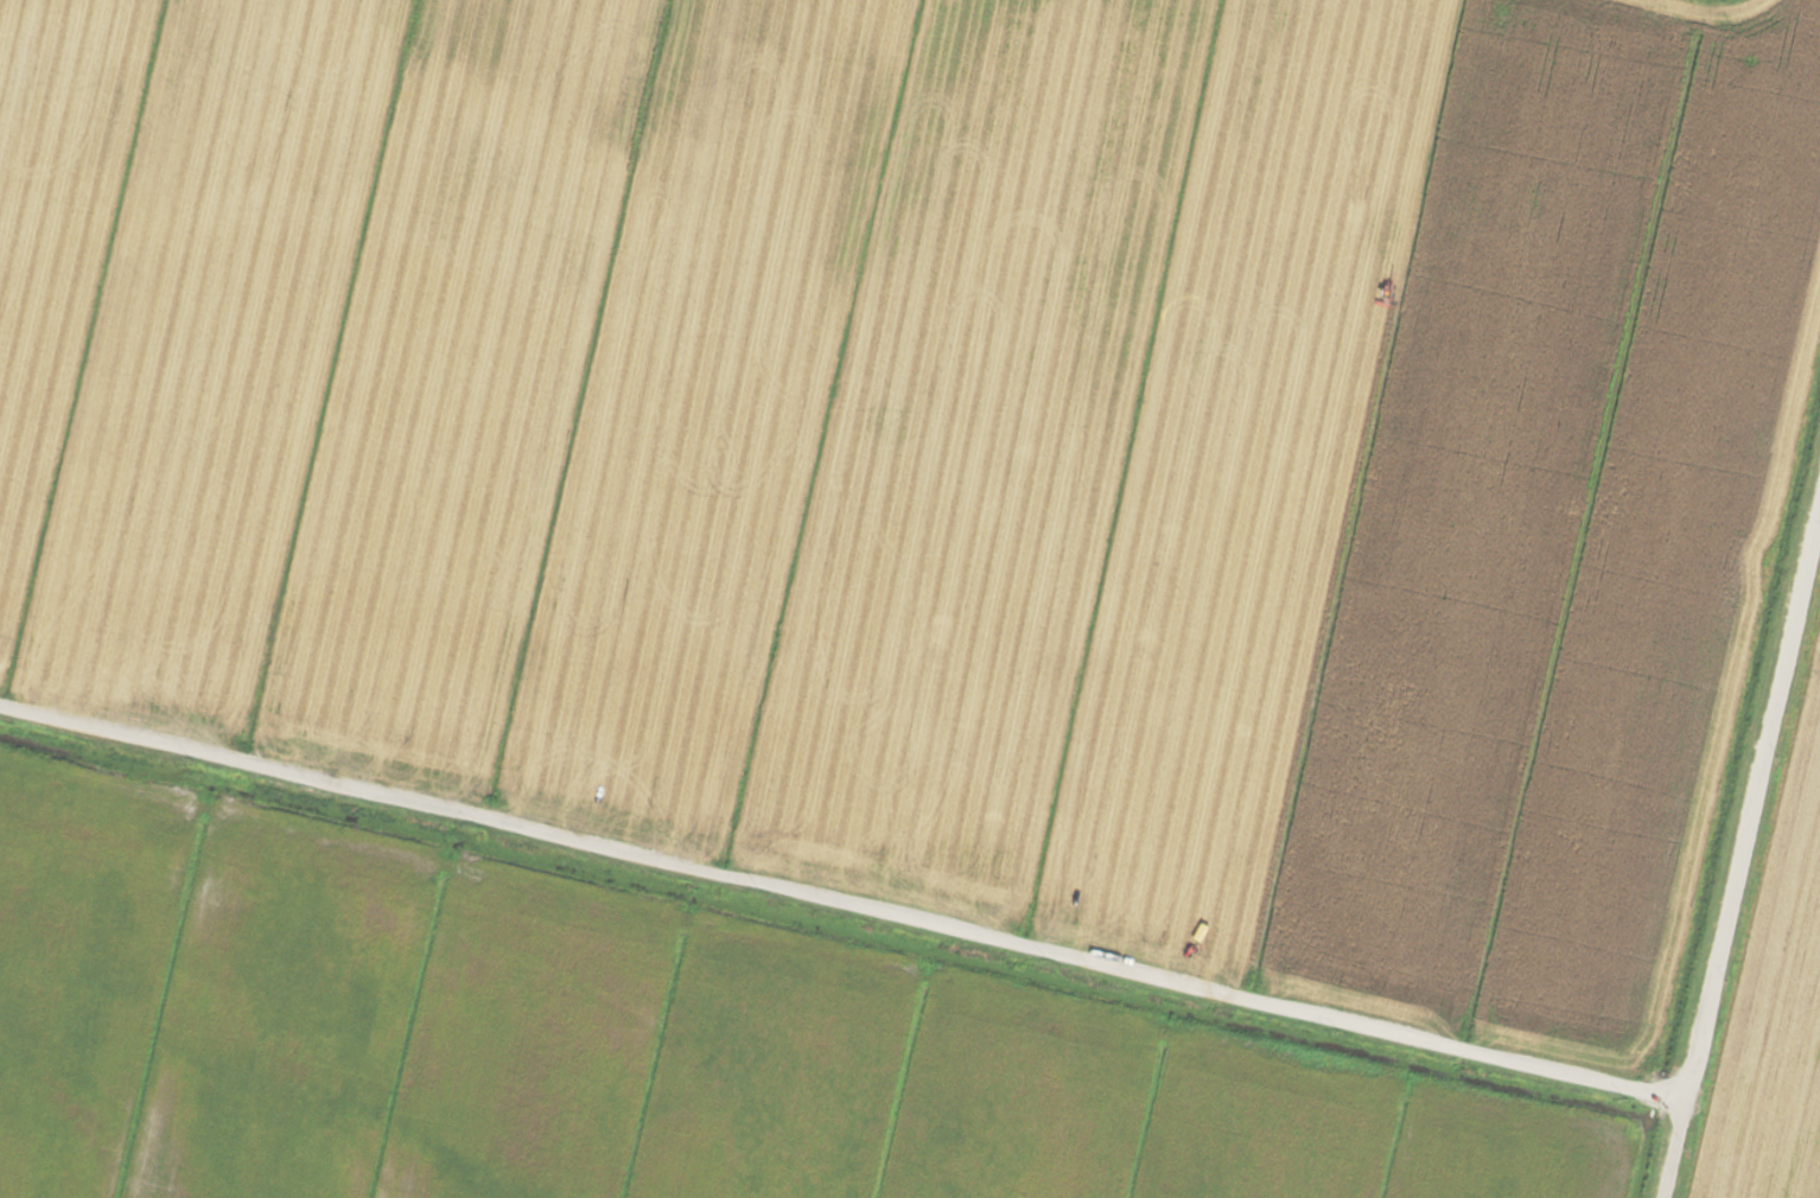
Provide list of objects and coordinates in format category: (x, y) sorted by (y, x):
road: (1739, 849)
road: (841, 897)

